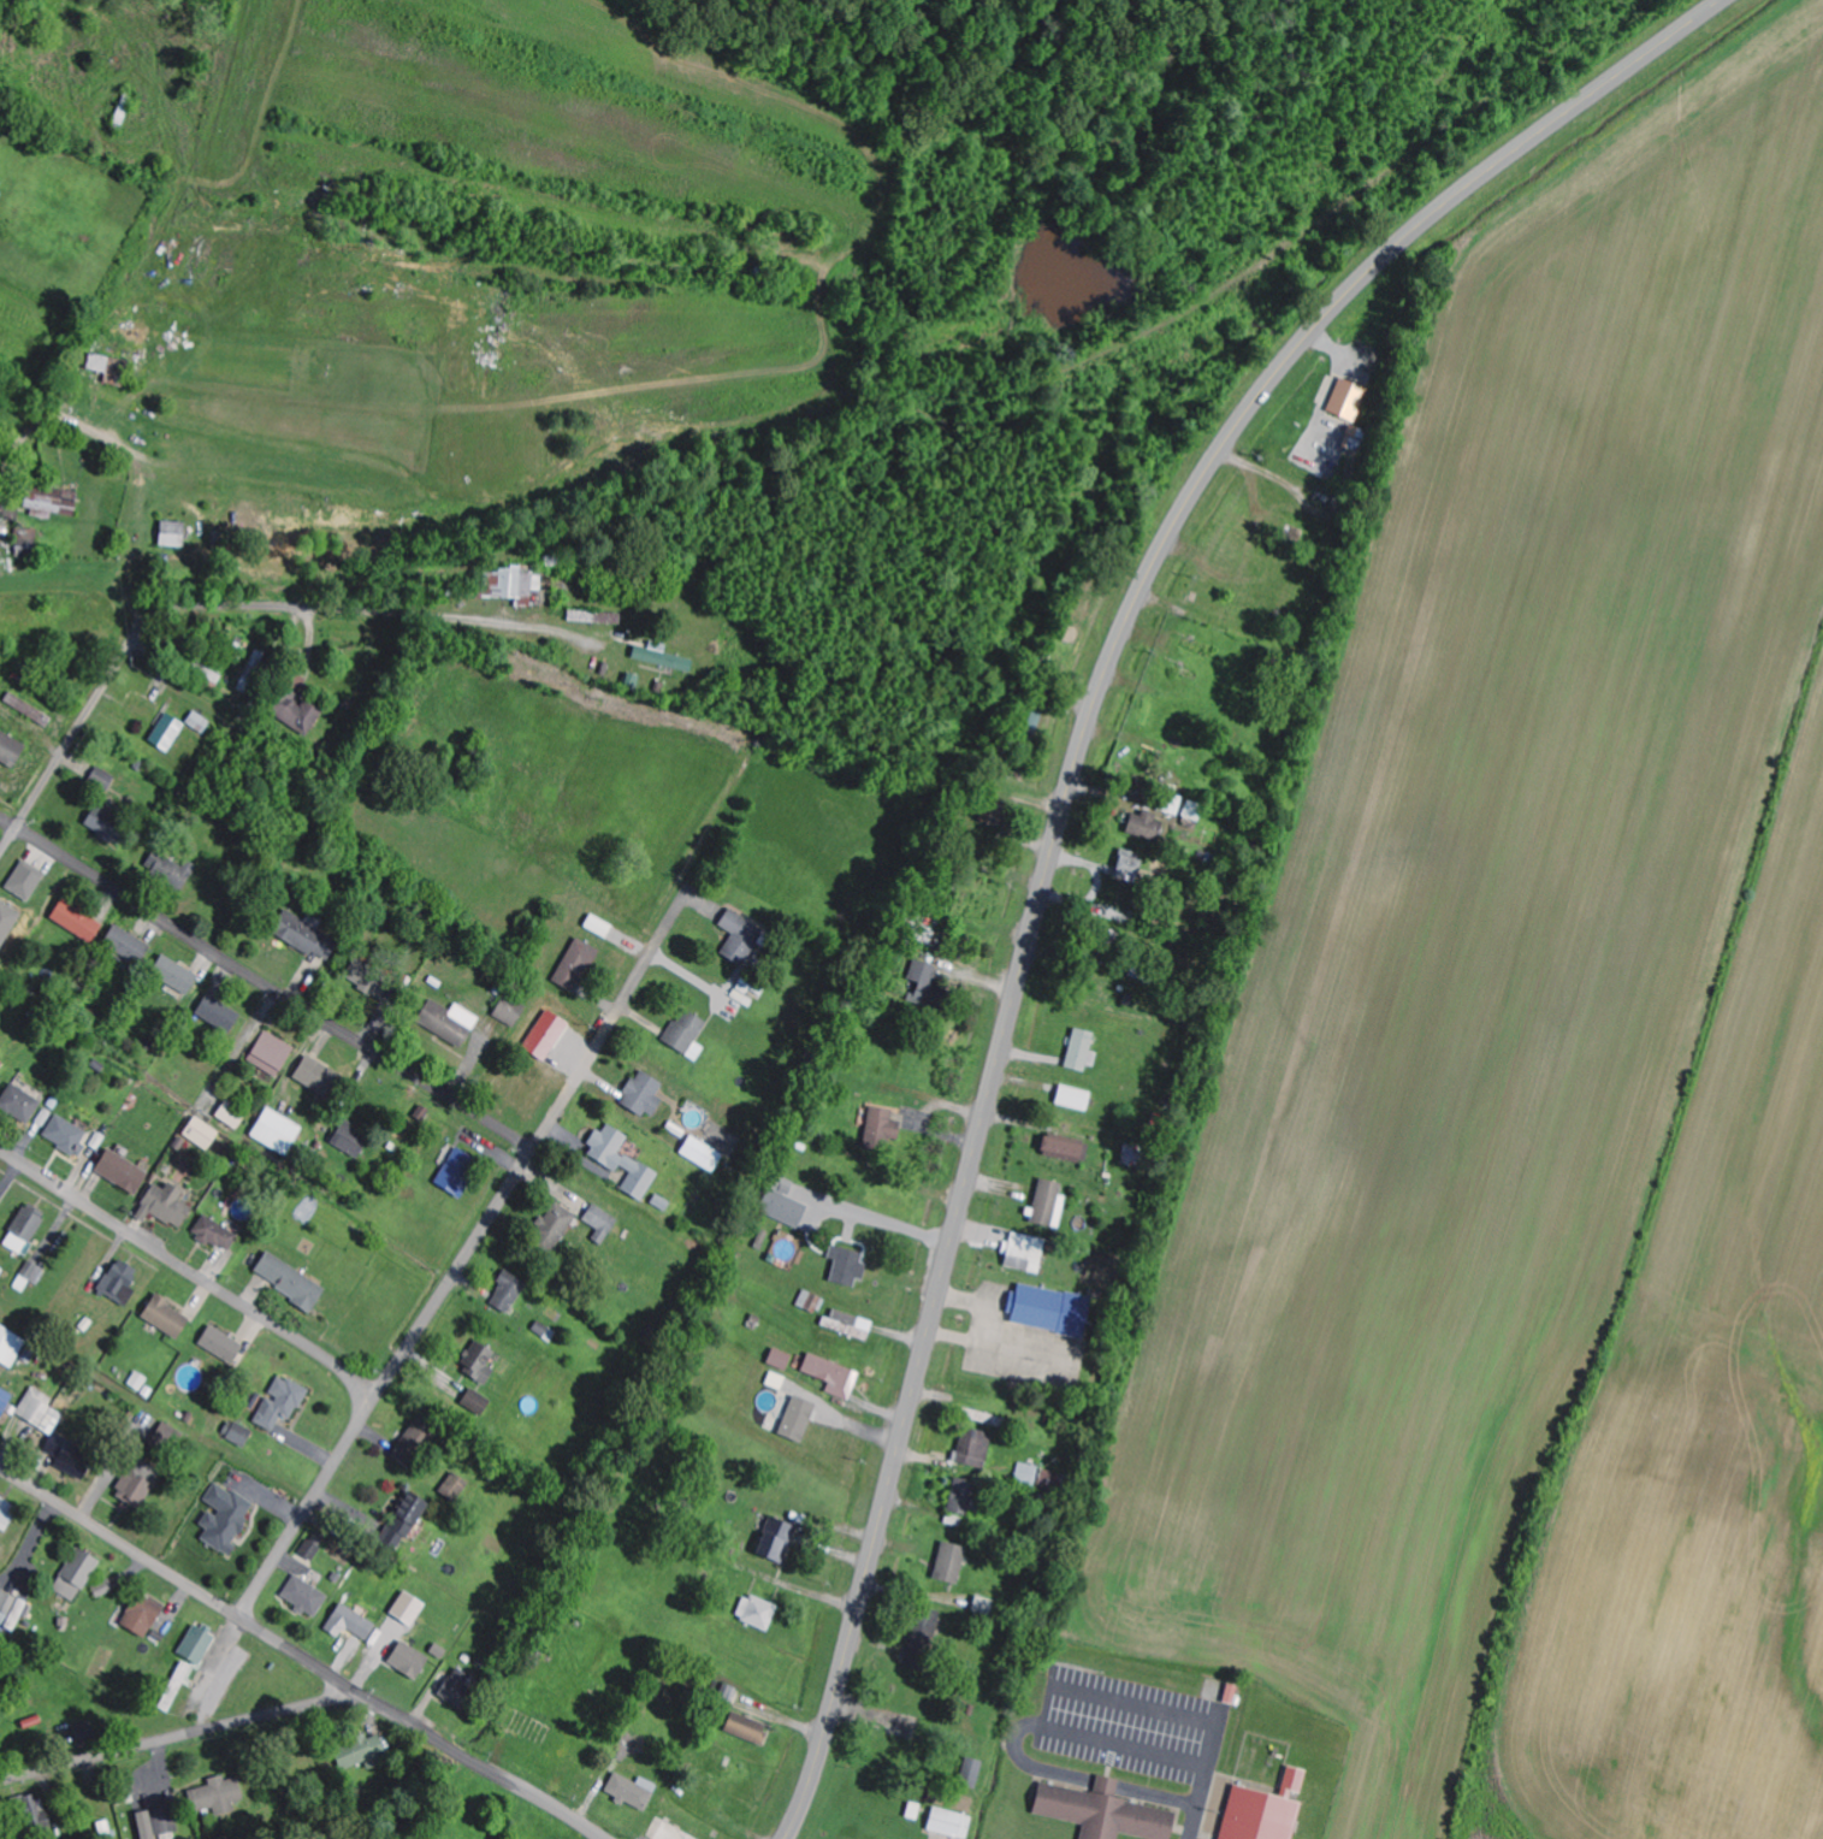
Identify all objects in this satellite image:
building: (107, 365)
building: (1349, 400)
building: (52, 501)
building: (174, 534)
building: (28, 543)
building: (511, 584)
road: (206, 605)
building: (596, 617)
building: (663, 657)
building: (254, 669)
building: (295, 705)
building: (29, 709)
building: (200, 722)
building: (168, 733)
building: (11, 749)
building: (105, 780)
road: (1065, 804)
building: (1195, 811)
building: (107, 826)
building: (1144, 826)
building: (1131, 862)
building: (176, 873)
building: (26, 881)
building: (78, 921)
building: (7, 922)
building: (307, 934)
building: (741, 938)
building: (128, 945)
building: (578, 964)
building: (176, 976)
building: (369, 978)
road: (265, 986)
building: (930, 986)
building: (510, 1011)
building: (220, 1015)
building: (450, 1022)
building: (688, 1034)
building: (548, 1035)
building: (1084, 1051)
building: (272, 1054)
building: (318, 1076)
building: (0, 1078)
building: (645, 1095)
building: (1076, 1099)
building: (20, 1104)
building: (233, 1114)
building: (880, 1128)
building: (278, 1131)
building: (203, 1134)
building: (67, 1136)
building: (351, 1140)
building: (1065, 1149)
building: (703, 1154)
building: (1134, 1155)
building: (623, 1161)
building: (124, 1172)
building: (460, 1172)
building: (1050, 1205)
building: (166, 1206)
building: (786, 1207)
building: (603, 1224)
building: (26, 1229)
building: (217, 1234)
road: (467, 1255)
building: (1032, 1259)
building: (848, 1266)
road: (190, 1272)
building: (31, 1276)
building: (291, 1282)
building: (120, 1283)
building: (509, 1293)
building: (811, 1302)
building: (167, 1318)
building: (1063, 1319)
building: (851, 1325)
building: (223, 1344)
building: (11, 1347)
building: (781, 1360)
building: (480, 1364)
building: (834, 1377)
building: (5, 1402)
building: (478, 1402)
building: (280, 1403)
building: (41, 1412)
building: (800, 1419)
building: (989, 1424)
building: (238, 1433)
building: (418, 1441)
building: (976, 1454)
building: (71, 1456)
building: (140, 1484)
building: (456, 1488)
building: (969, 1503)
building: (7, 1513)
building: (225, 1519)
building: (404, 1522)
road: (120, 1538)
building: (779, 1541)
building: (315, 1545)
building: (958, 1569)
building: (77, 1575)
building: (103, 1589)
building: (306, 1597)
building: (984, 1607)
building: (409, 1609)
building: (11, 1610)
building: (758, 1613)
building: (143, 1615)
building: (351, 1624)
building: (925, 1642)
building: (199, 1646)
road: (302, 1655)
building: (410, 1661)
building: (460, 1689)
building: (729, 1695)
road: (1168, 1719)
building: (750, 1729)
building: (85, 1732)
parking lot: (1135, 1732)
road: (1054, 1733)
road: (180, 1739)
building: (362, 1752)
road: (480, 1766)
building: (973, 1774)
building: (1295, 1782)
building: (634, 1792)
building: (217, 1796)
road: (1164, 1804)
building: (1108, 1814)
building: (34, 1815)
building: (1271, 1820)
building: (158, 1825)
building: (952, 1825)

